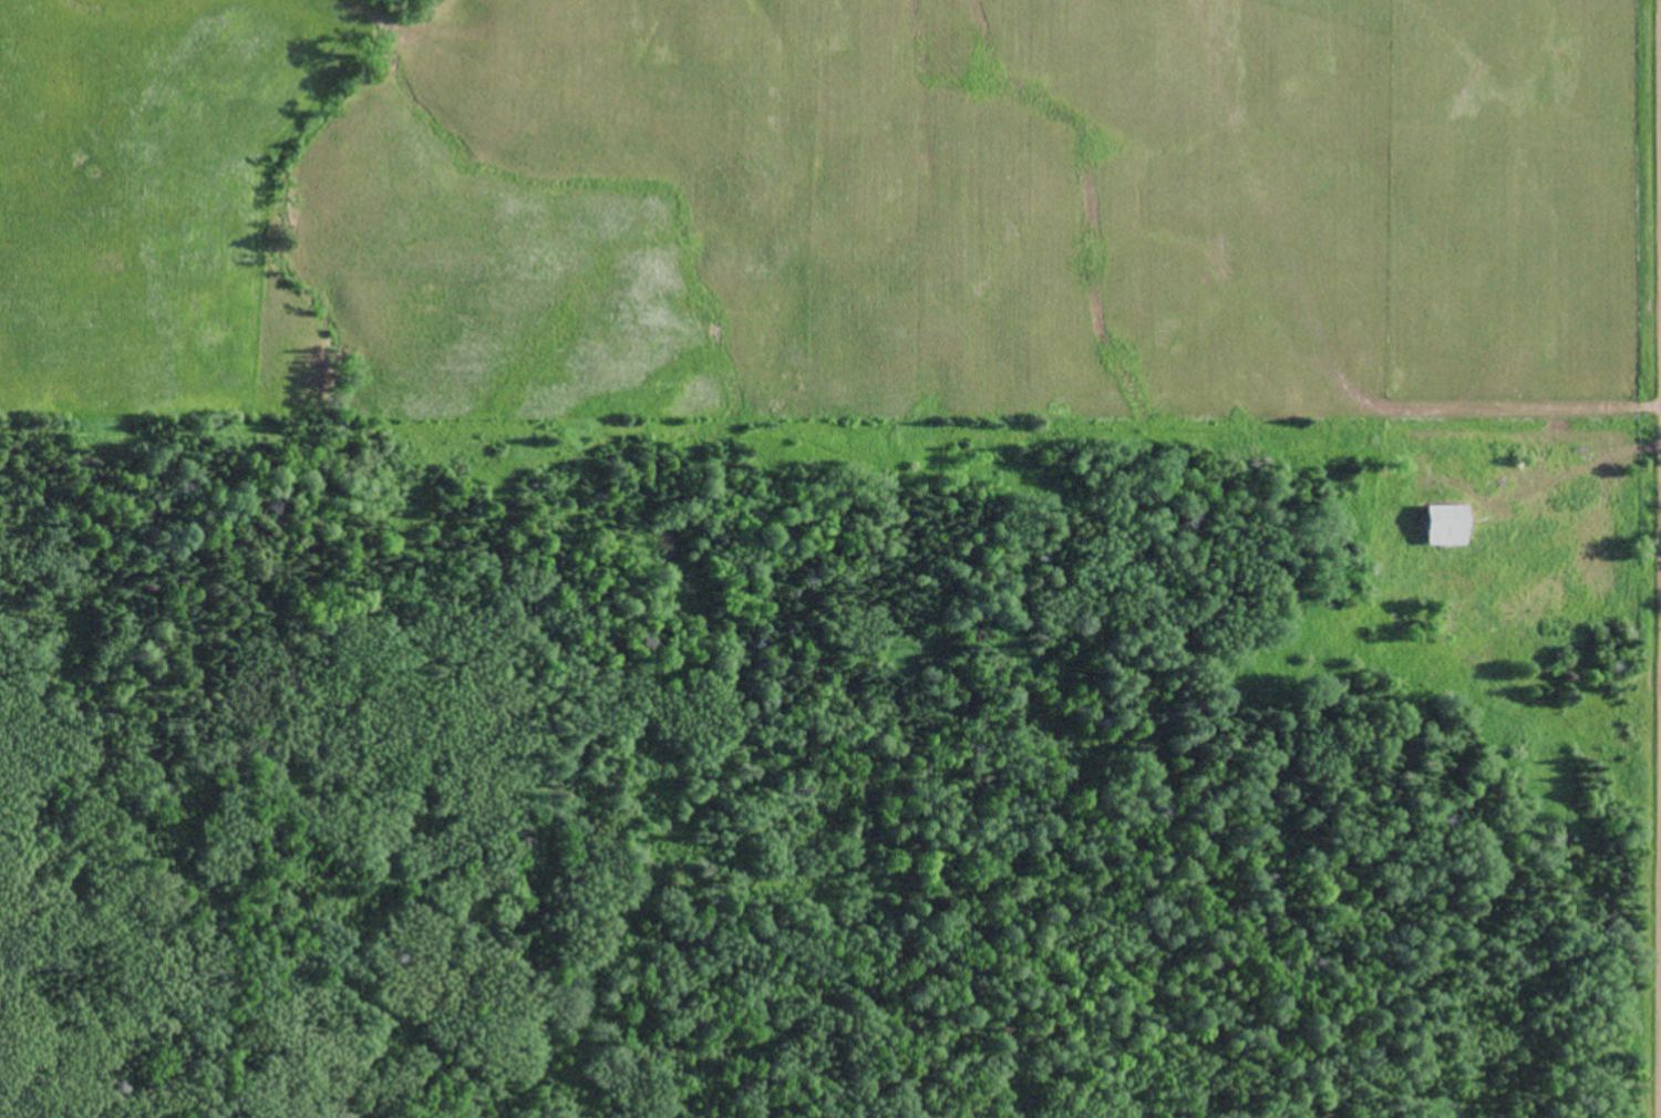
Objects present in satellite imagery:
building: (1437, 525)

